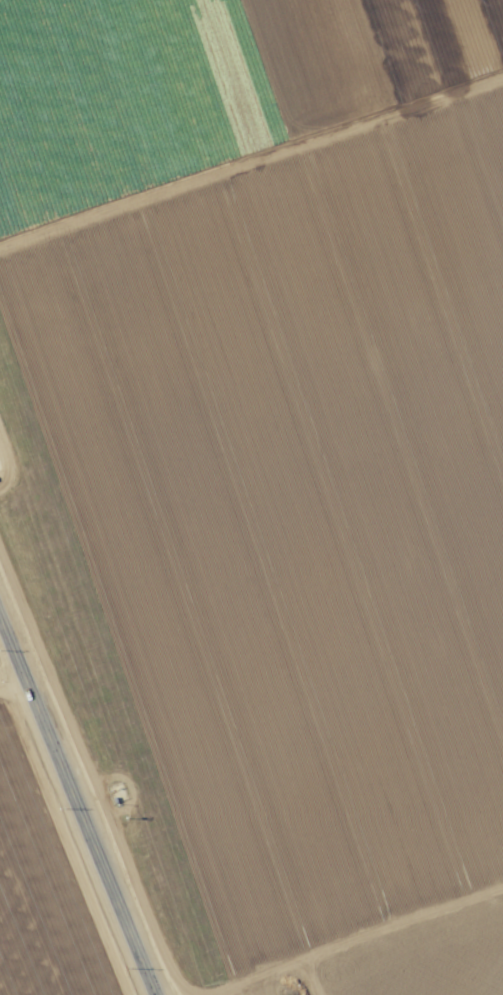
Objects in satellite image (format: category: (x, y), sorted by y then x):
crop: (251, 497)
road: (8, 670)
road: (78, 810)
road: (358, 944)

